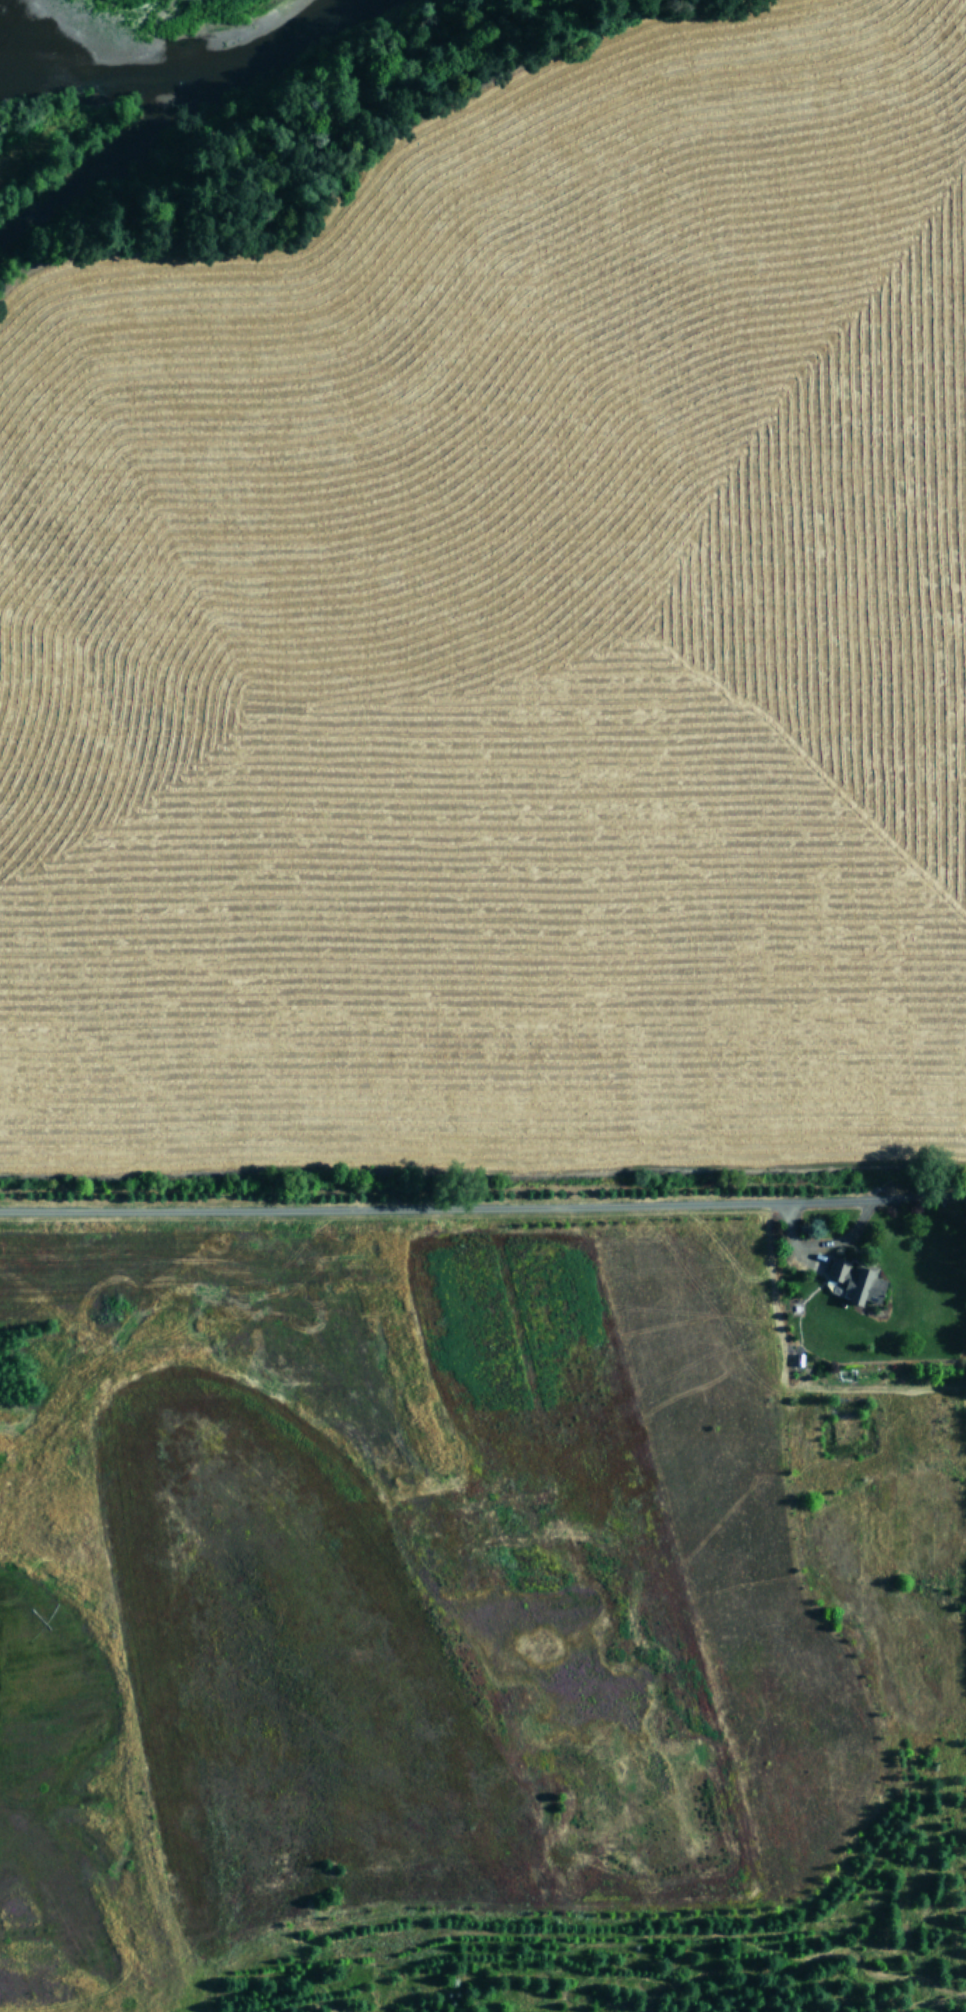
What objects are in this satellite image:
crop: (500, 1063)
road: (892, 1655)

